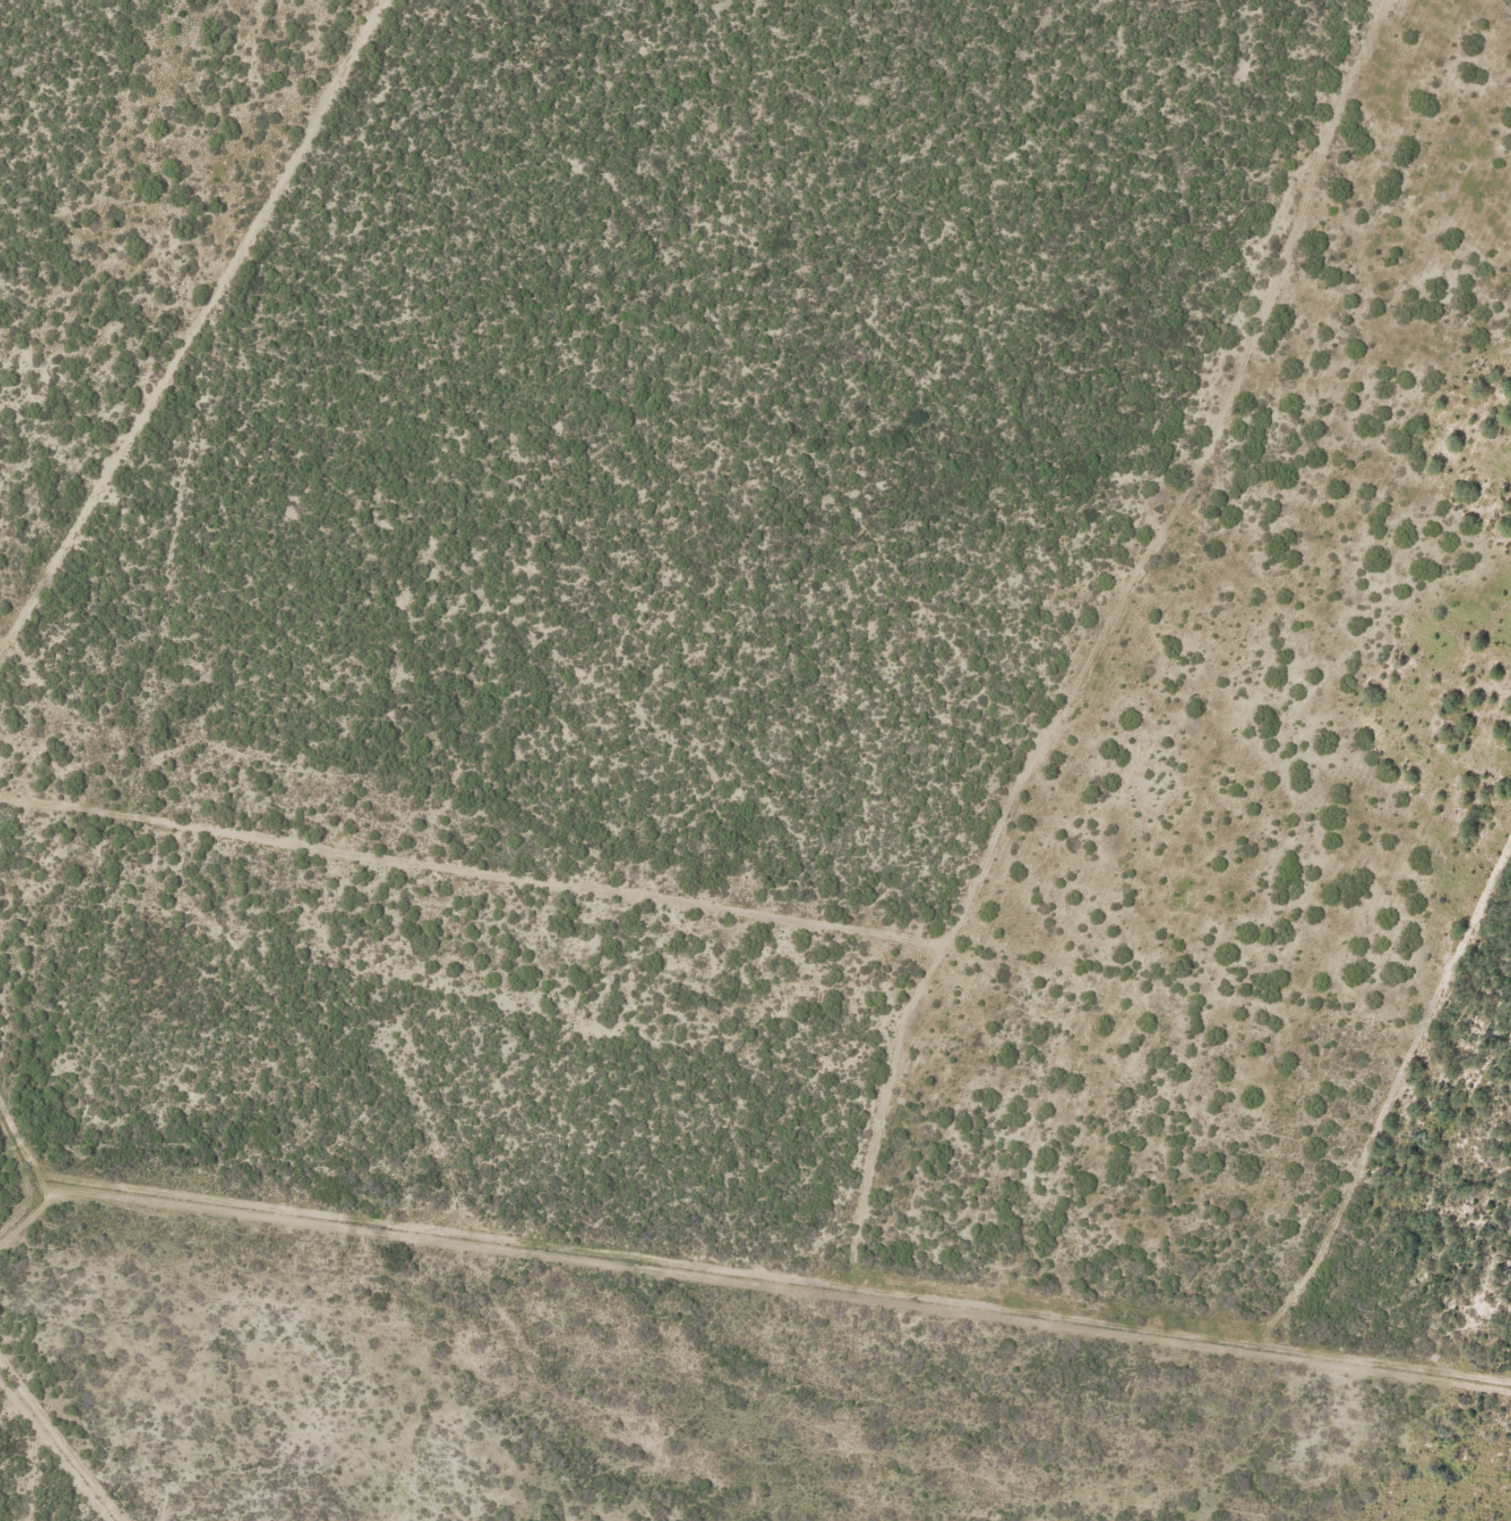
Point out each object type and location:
road: (181, 298)

